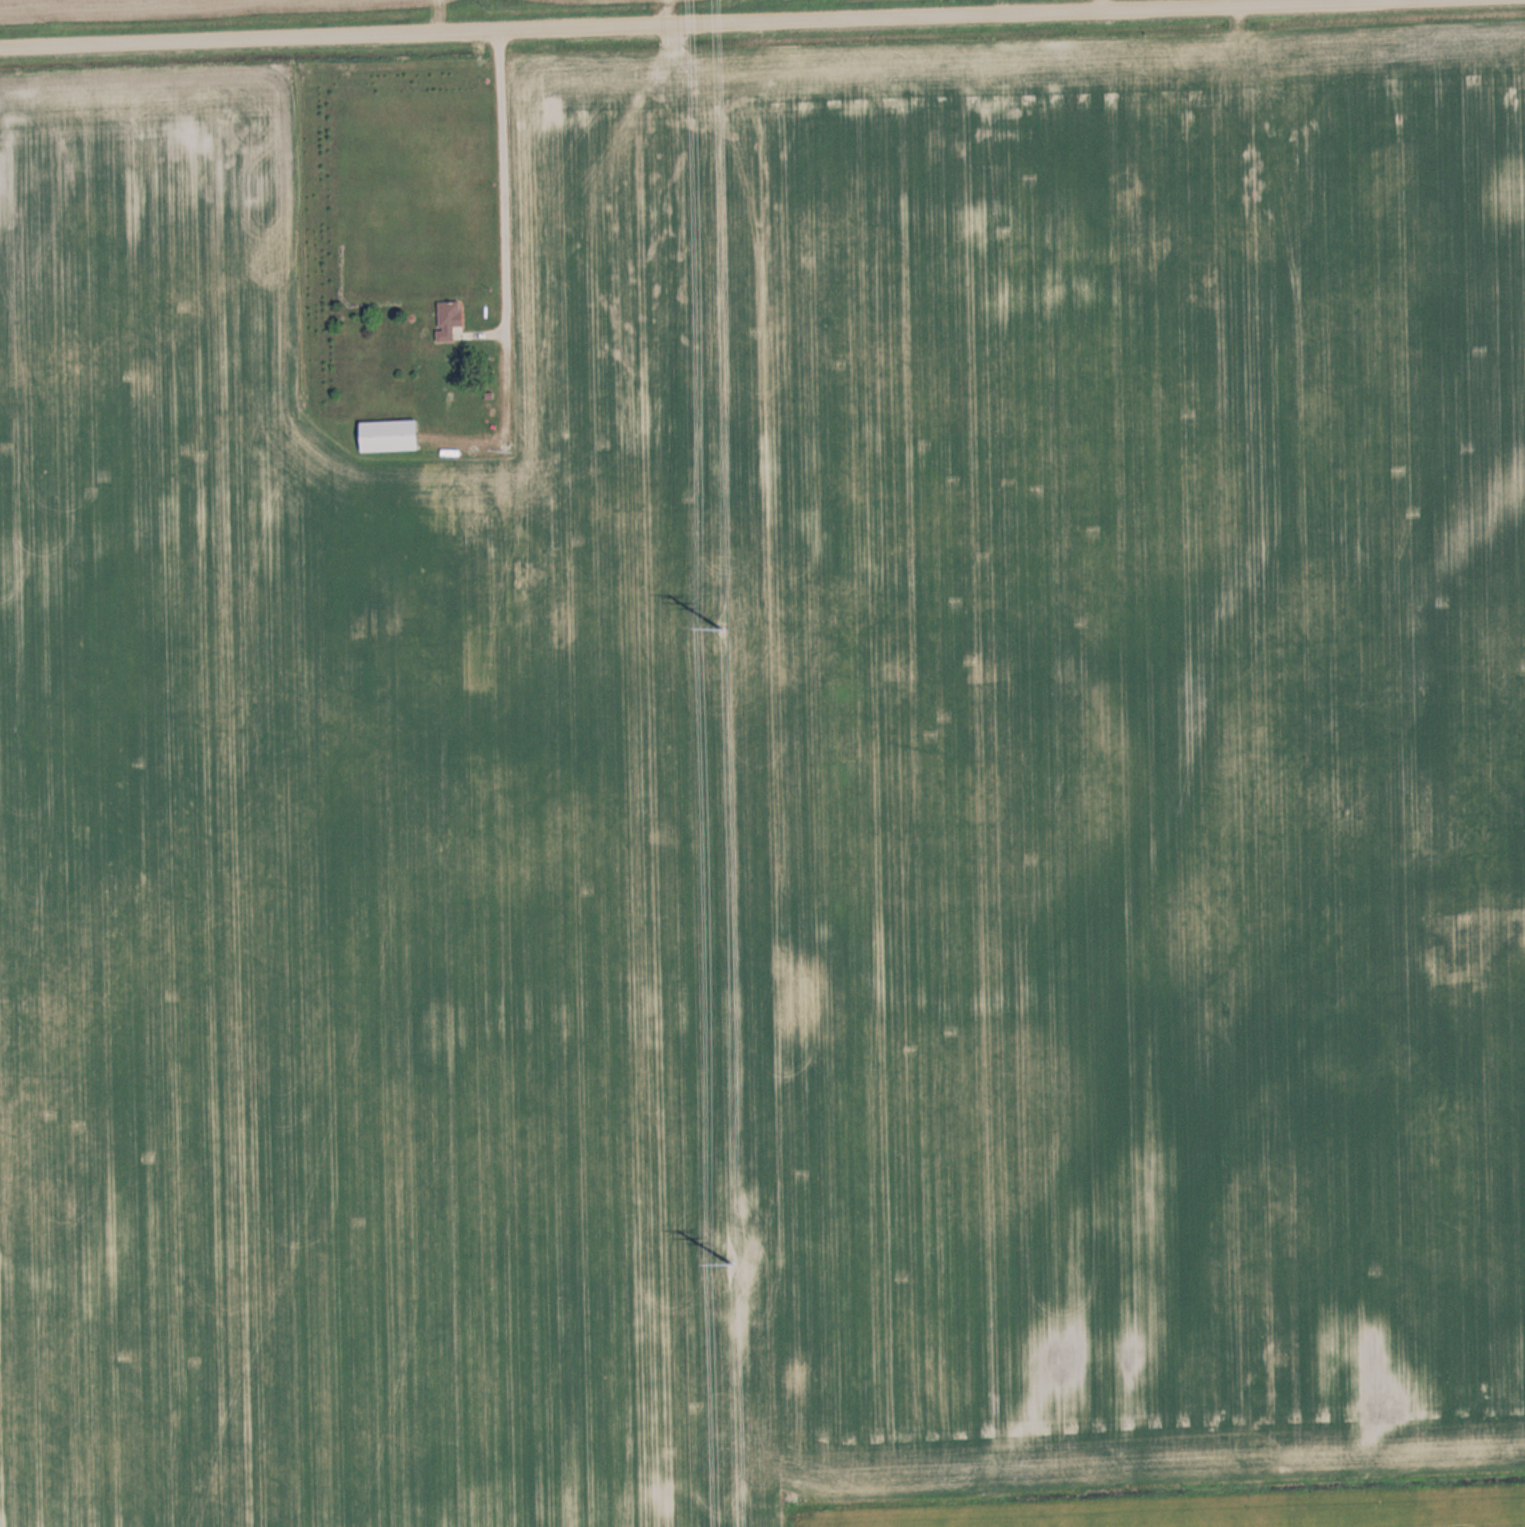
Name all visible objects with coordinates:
road: (713, 25)
building: (445, 319)
building: (383, 436)
power tower: (721, 622)
power tower: (728, 1257)

